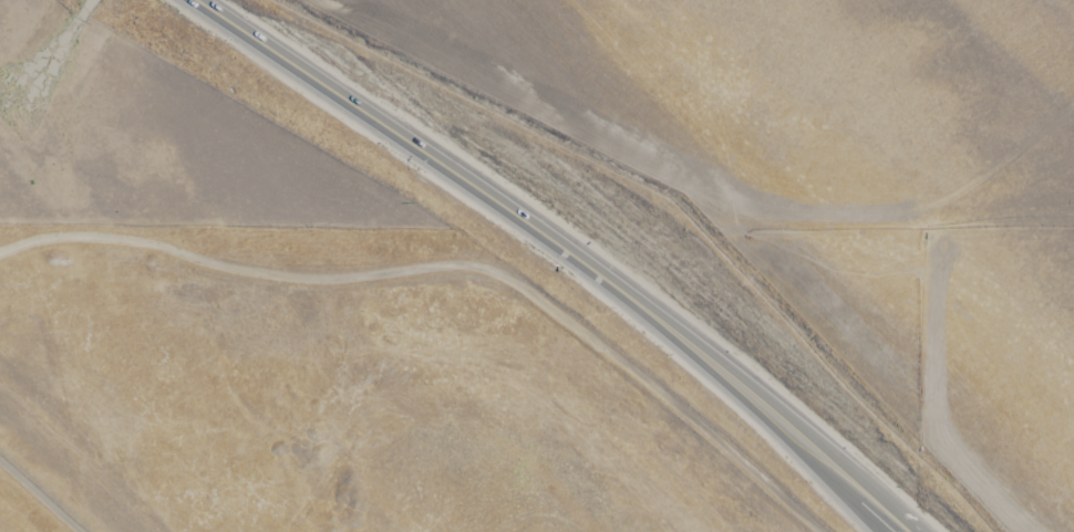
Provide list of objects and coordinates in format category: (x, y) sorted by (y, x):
road: (544, 232)
crop: (537, 265)
road: (885, 514)

